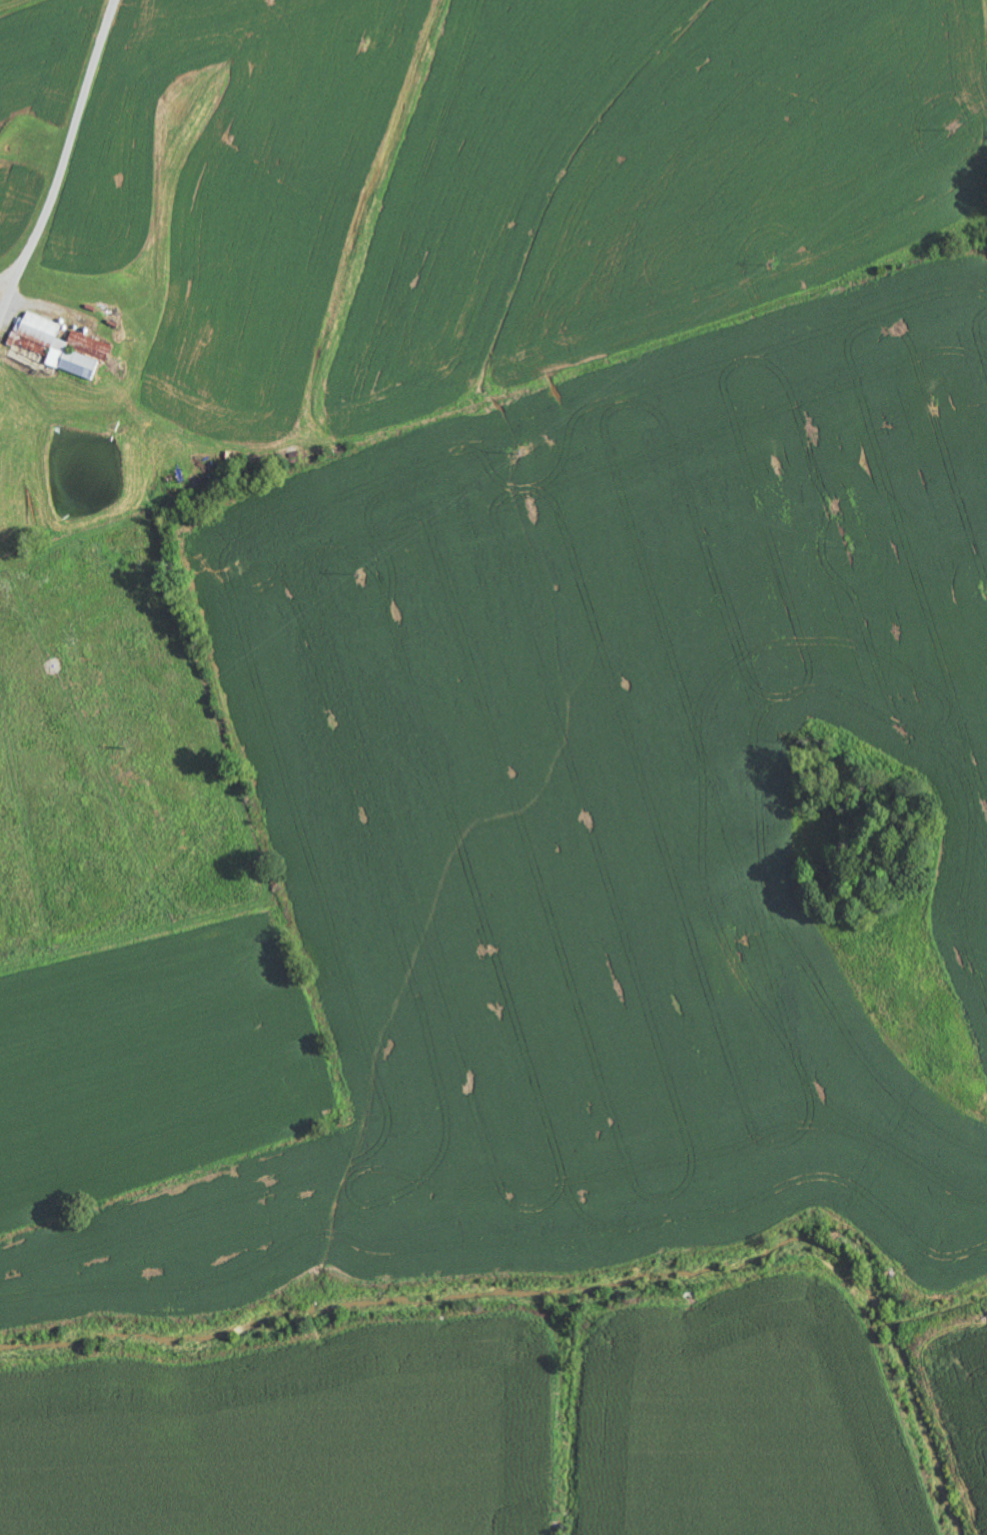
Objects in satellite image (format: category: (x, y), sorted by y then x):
road: (55, 112)
building: (60, 345)

